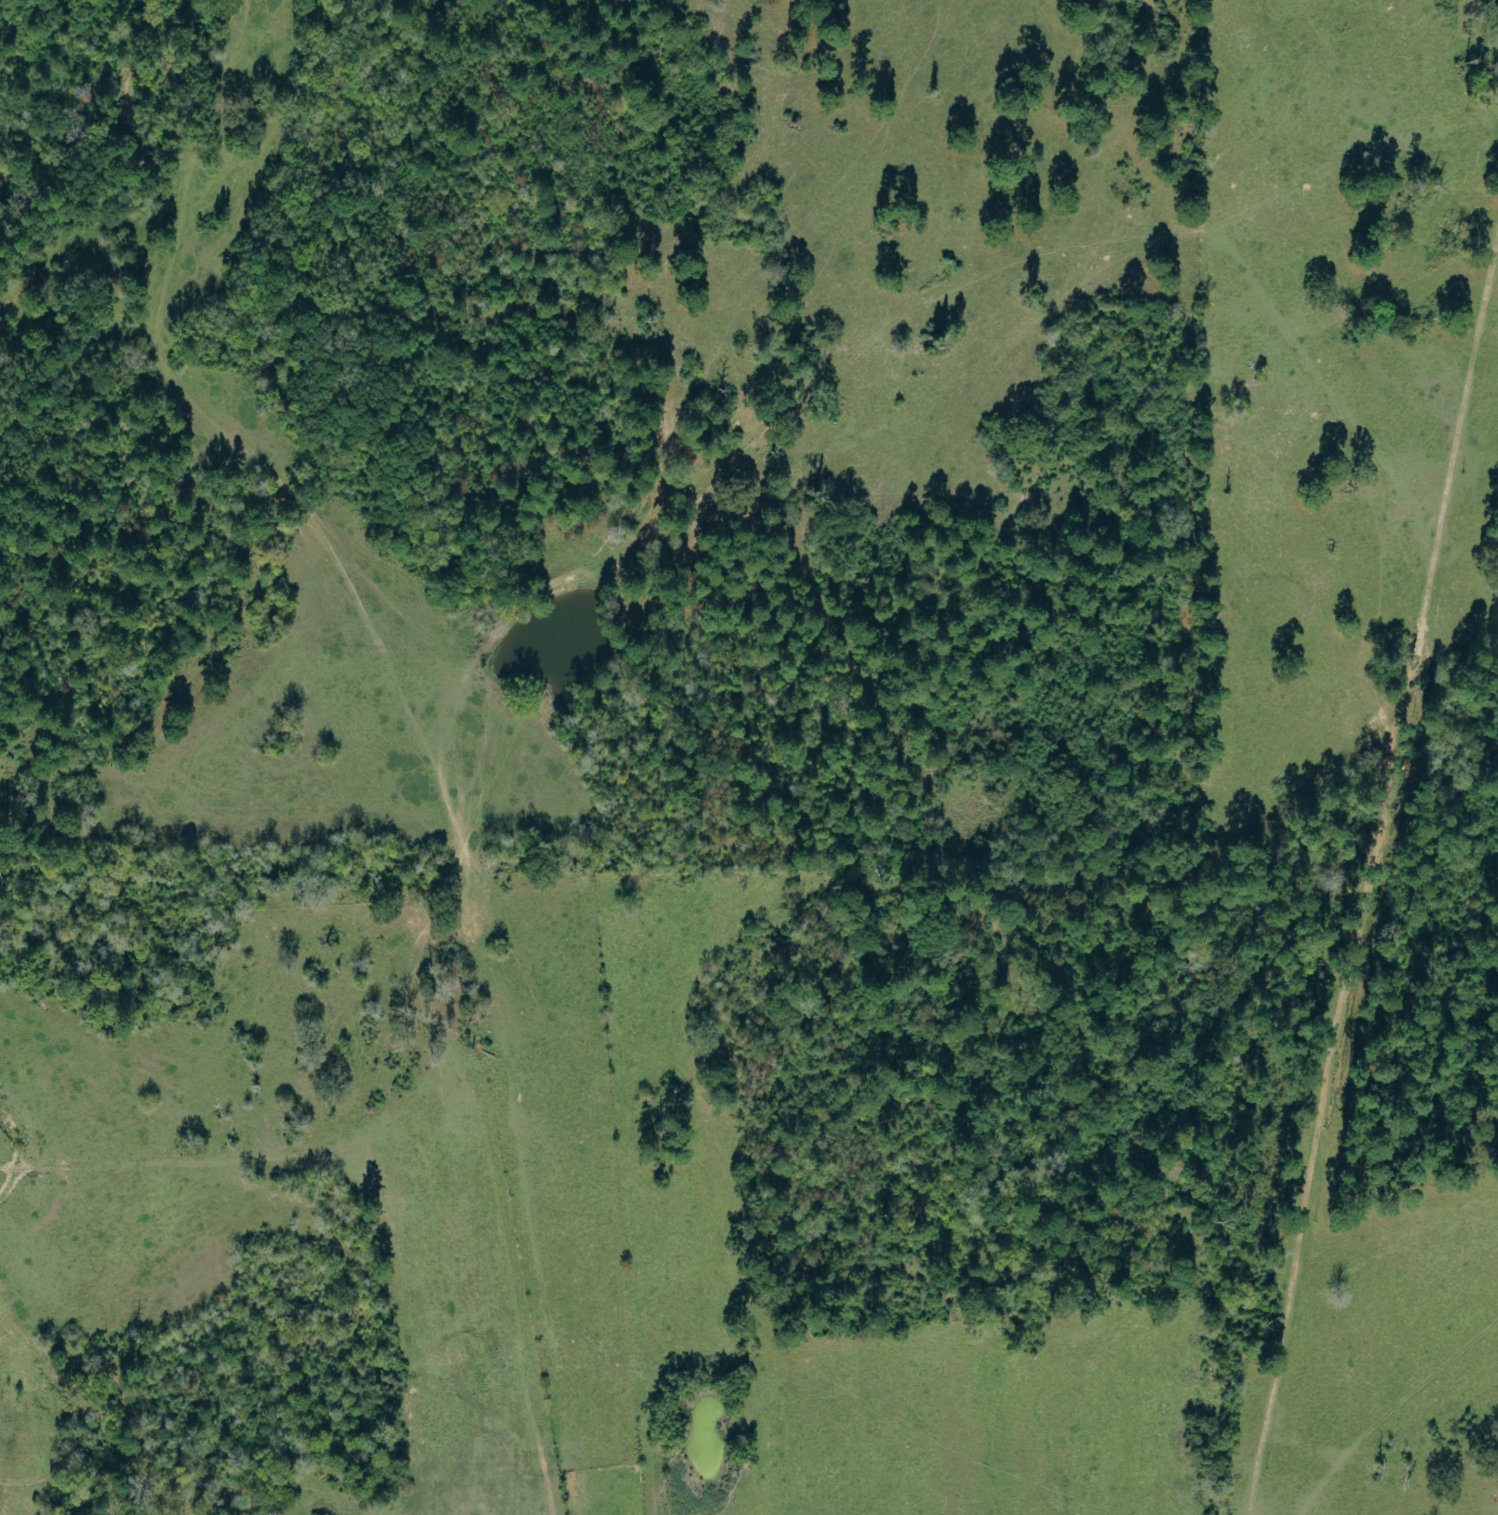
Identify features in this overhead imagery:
road: (1409, 840)

